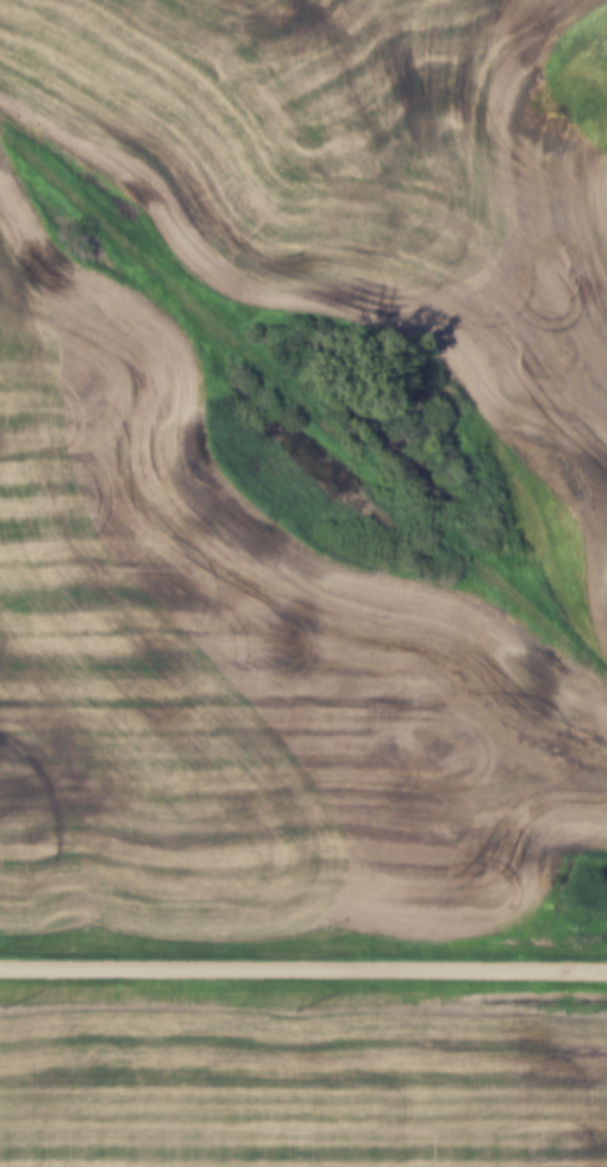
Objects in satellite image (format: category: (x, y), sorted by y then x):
road: (303, 962)

